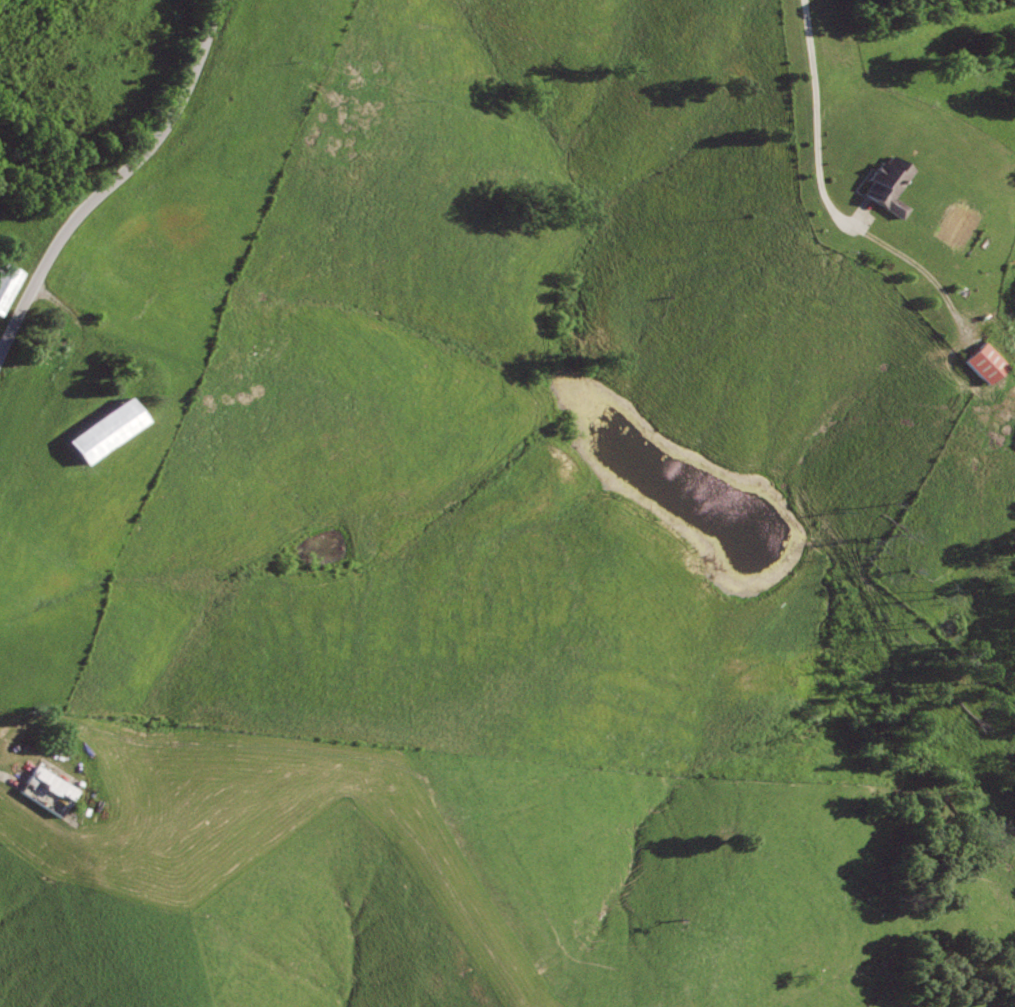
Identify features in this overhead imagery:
road: (114, 181)
building: (891, 186)
road: (827, 201)
building: (6, 282)
building: (988, 362)
building: (103, 427)
road: (10, 777)
building: (50, 791)

